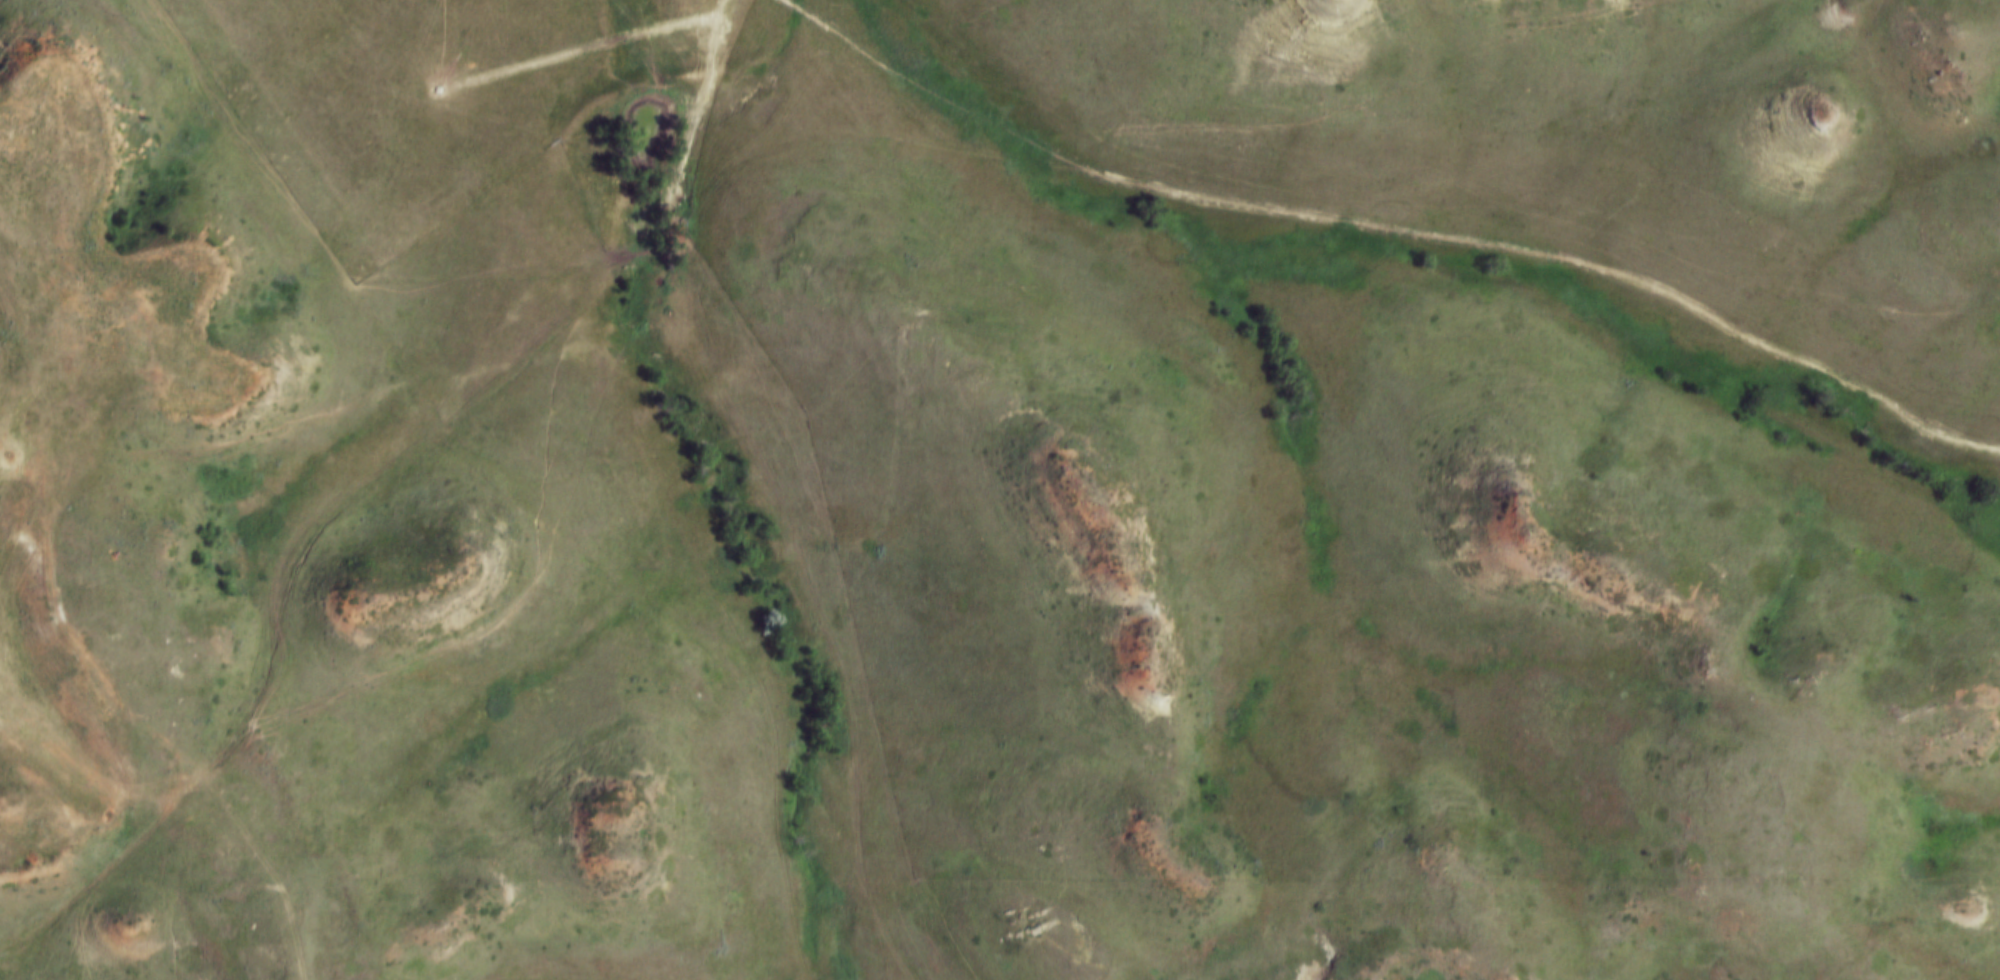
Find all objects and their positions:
road: (131, 848)

